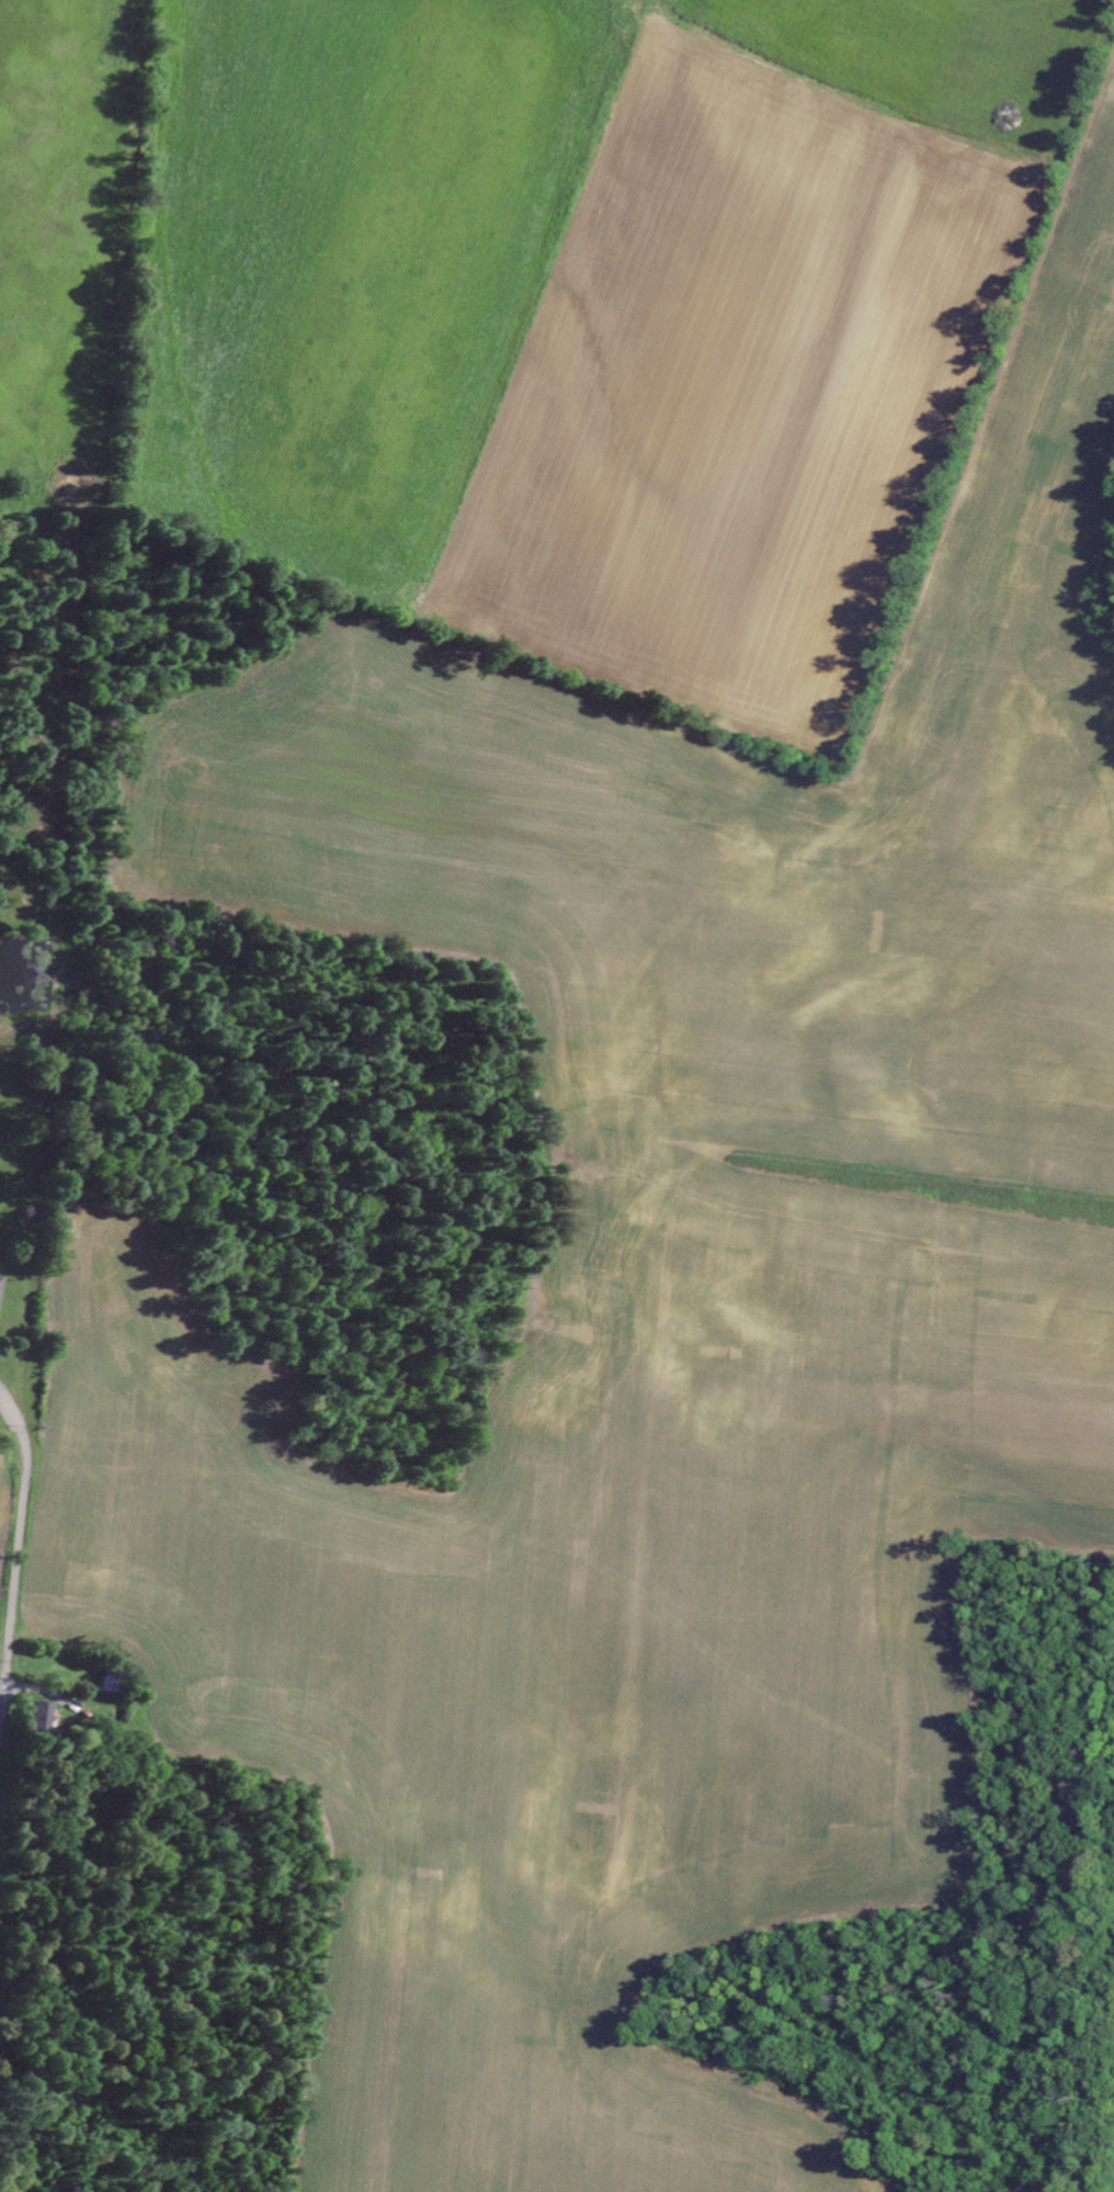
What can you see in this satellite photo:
building: (1, 1287)
road: (19, 1550)
building: (46, 1717)

